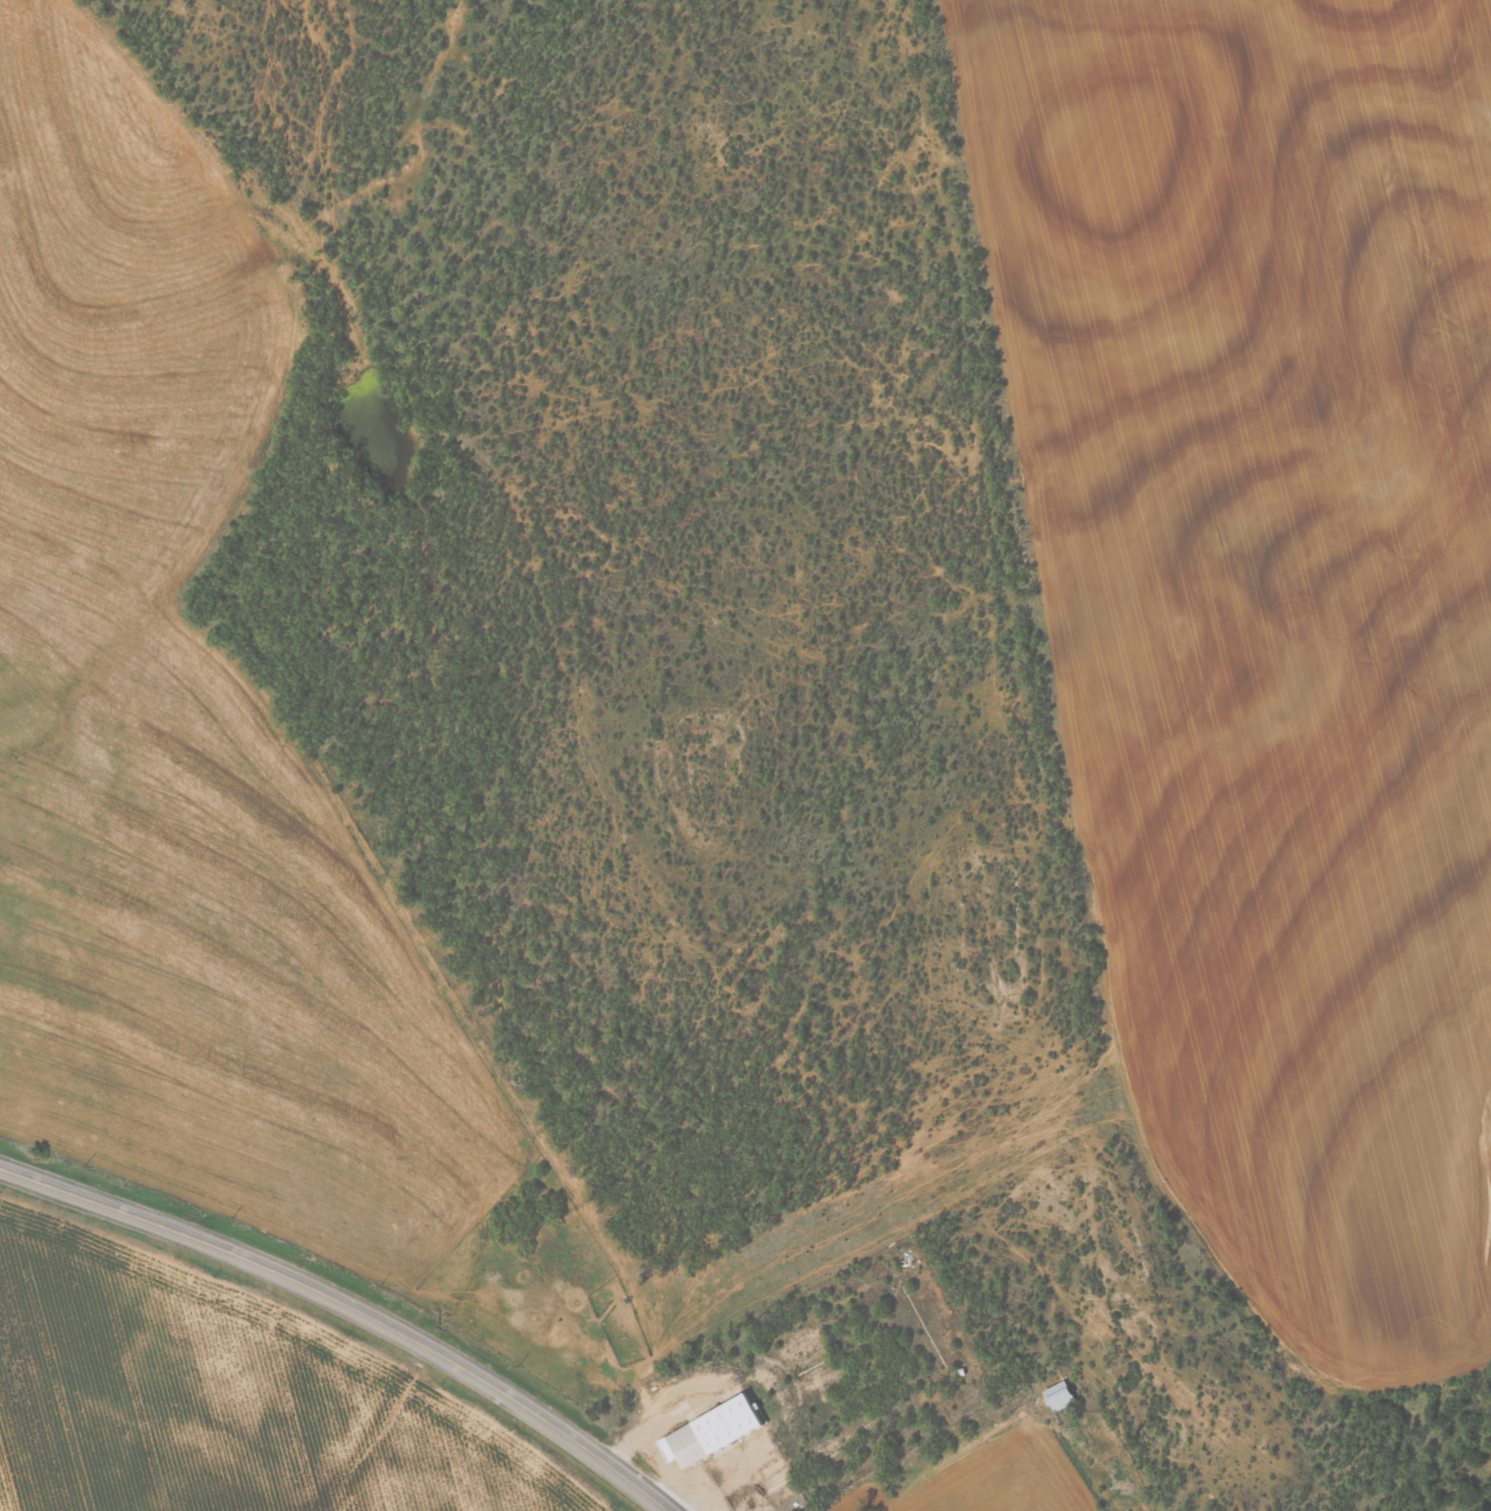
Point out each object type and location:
road: (67, 1197)
road: (411, 1339)
building: (1060, 1396)
building: (712, 1431)

